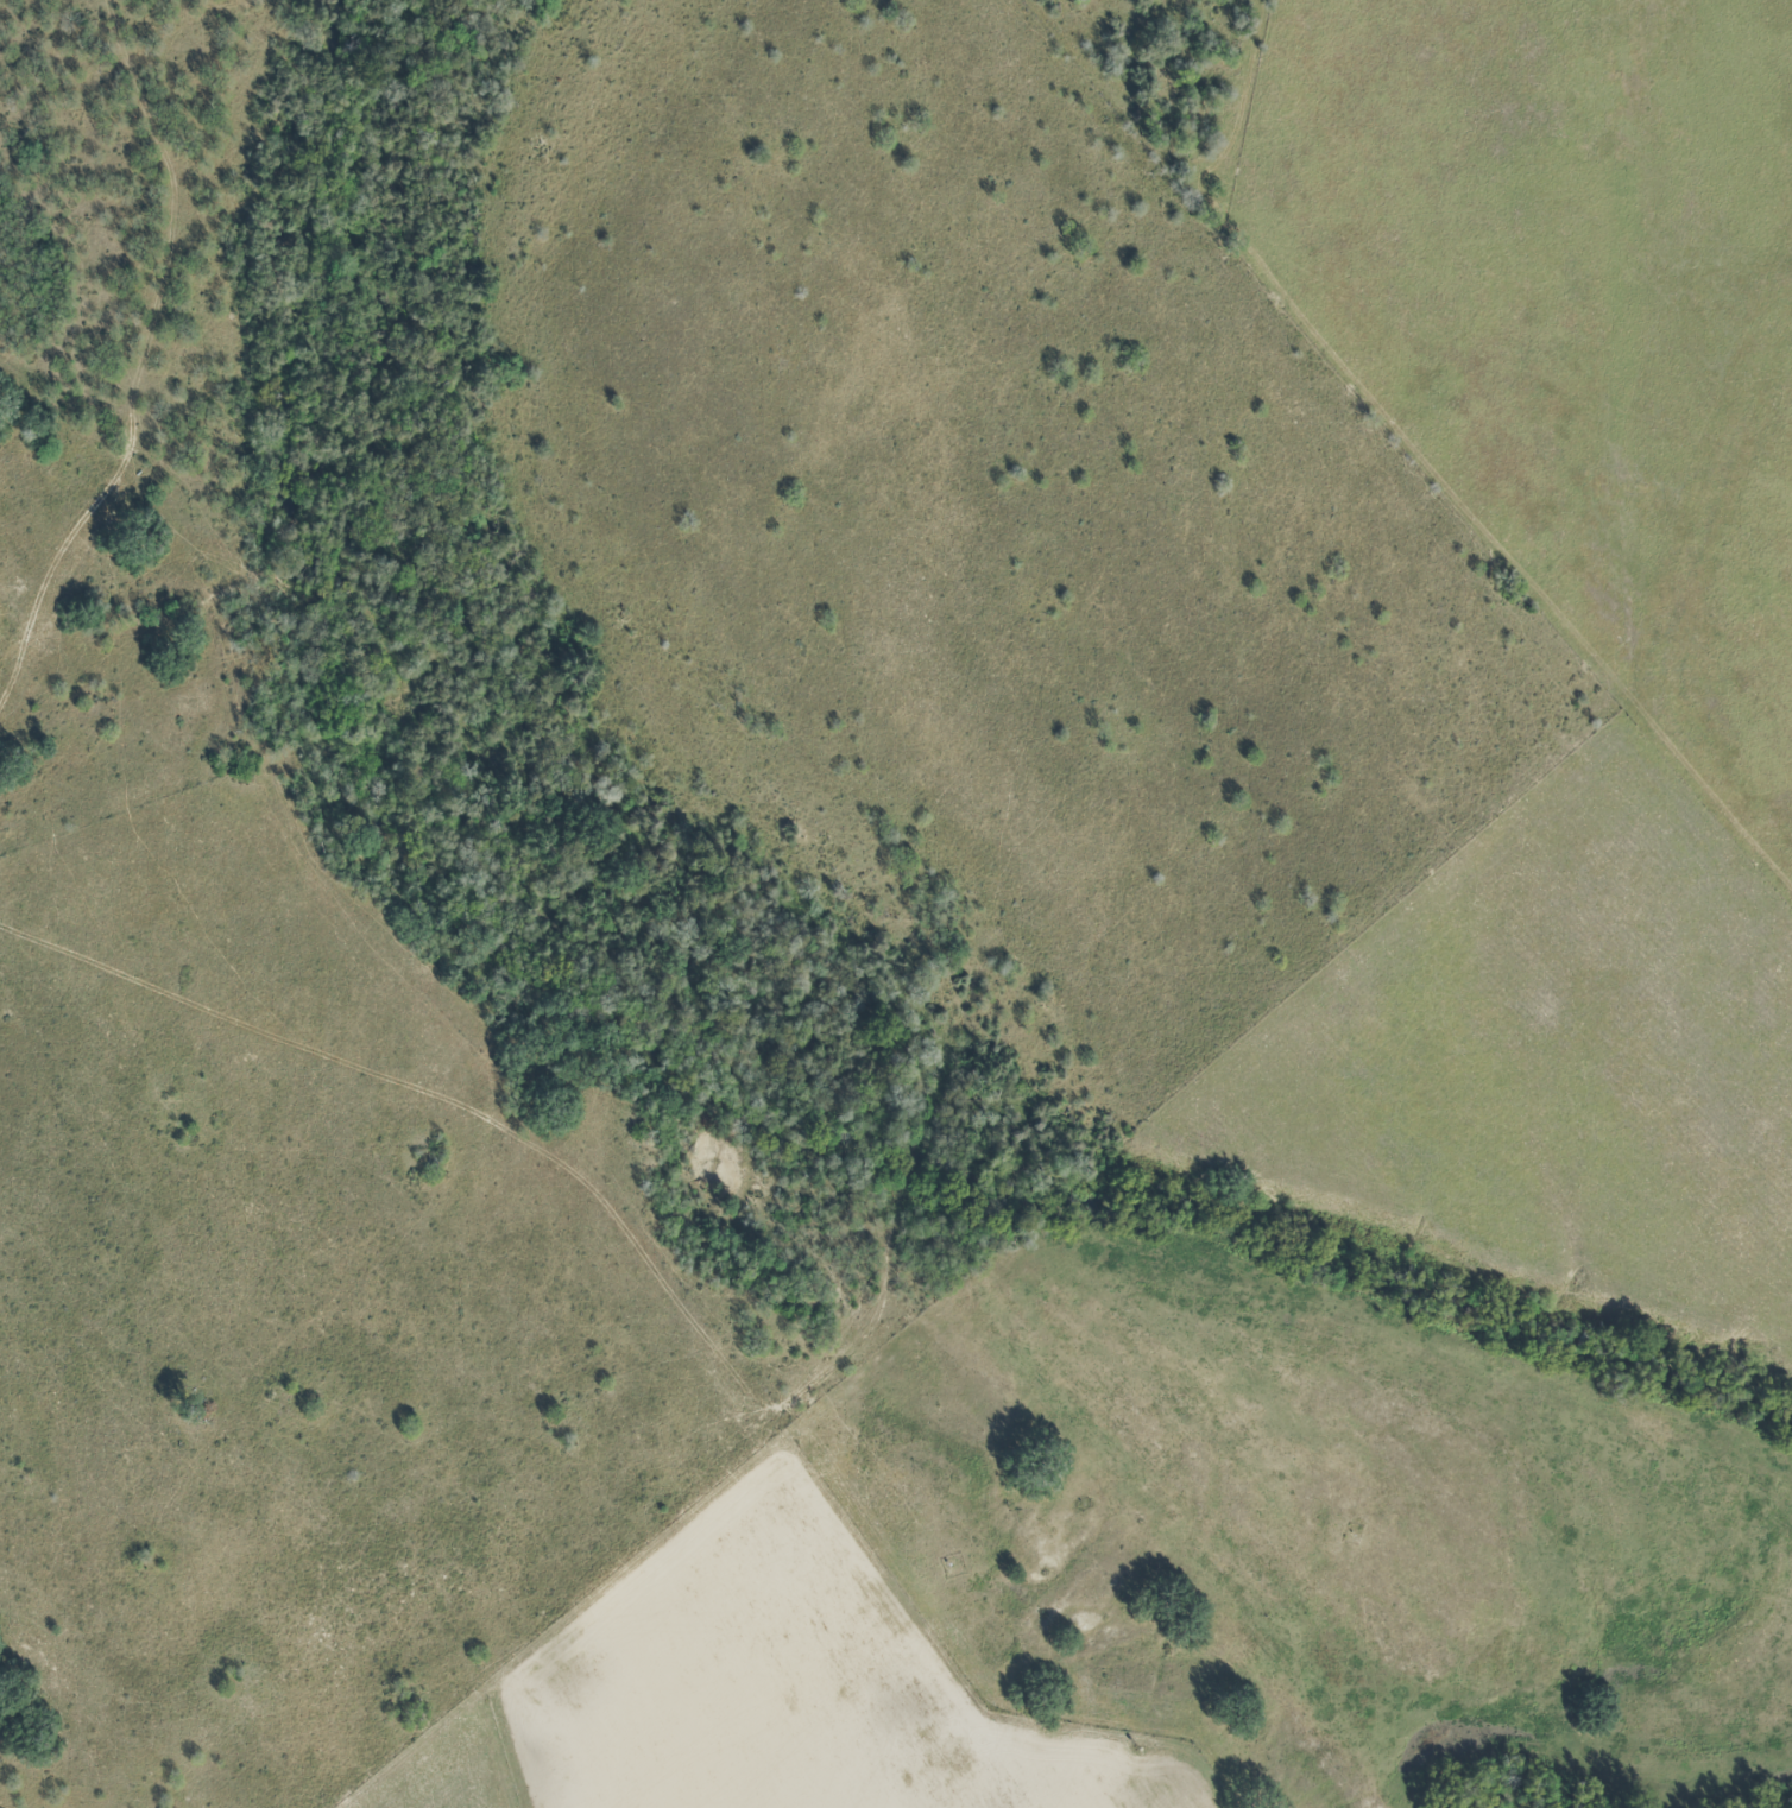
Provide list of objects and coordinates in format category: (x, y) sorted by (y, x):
river: (648, 1035)
river: (1504, 1783)

